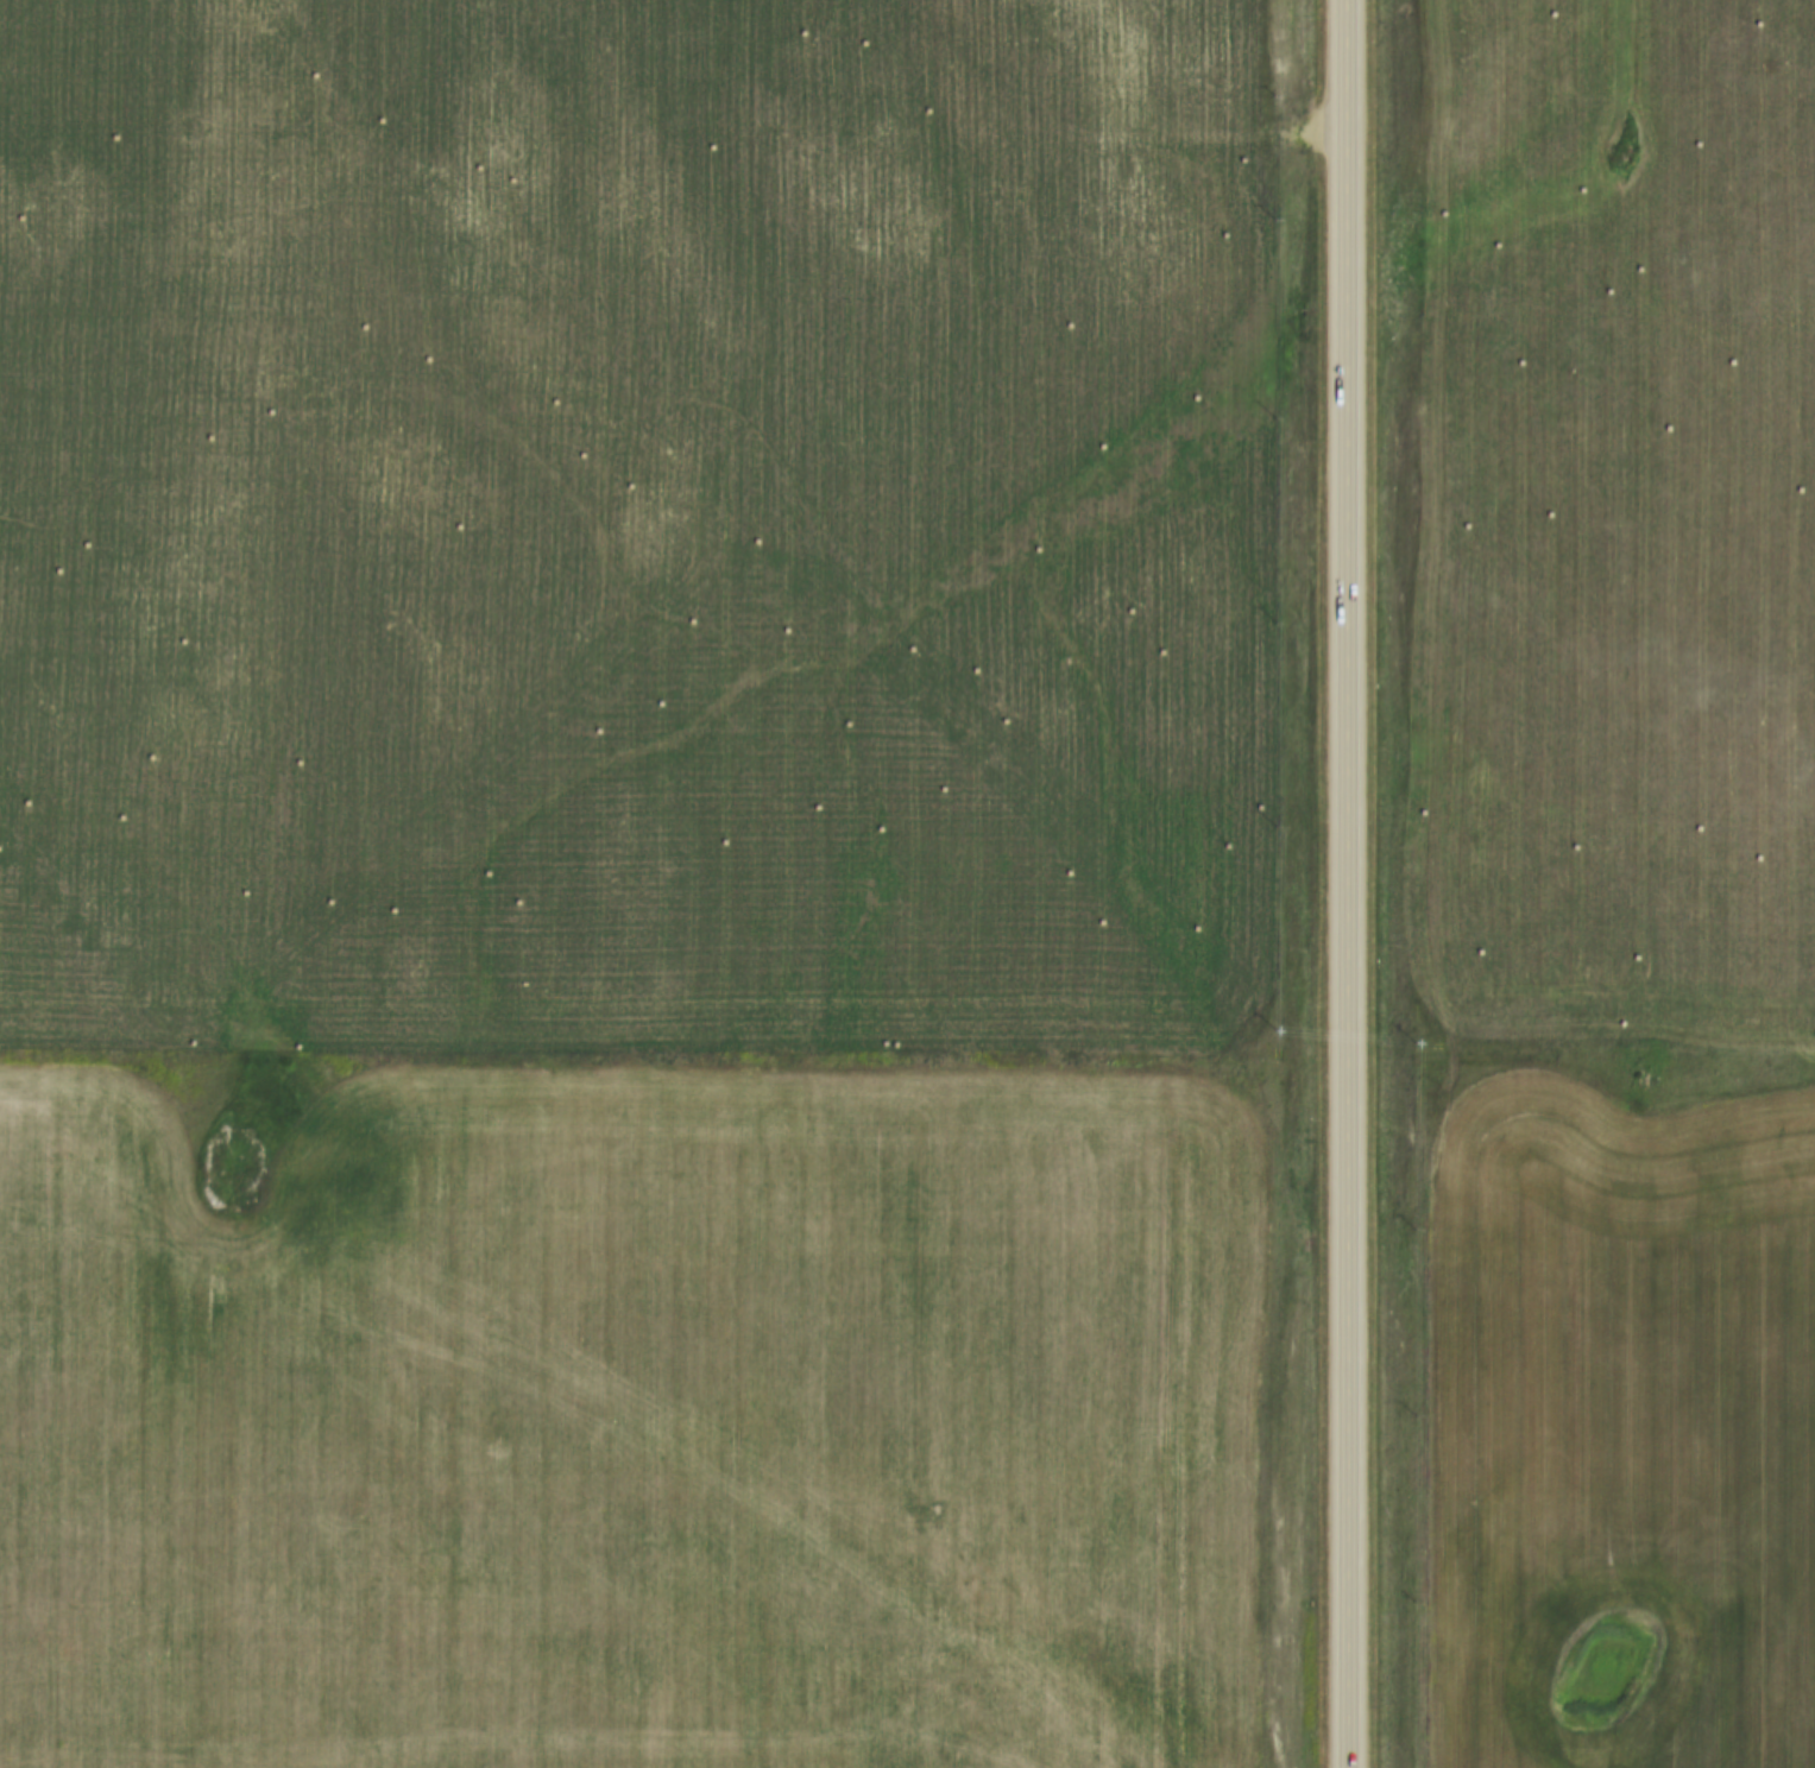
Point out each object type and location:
road: (1348, 883)

